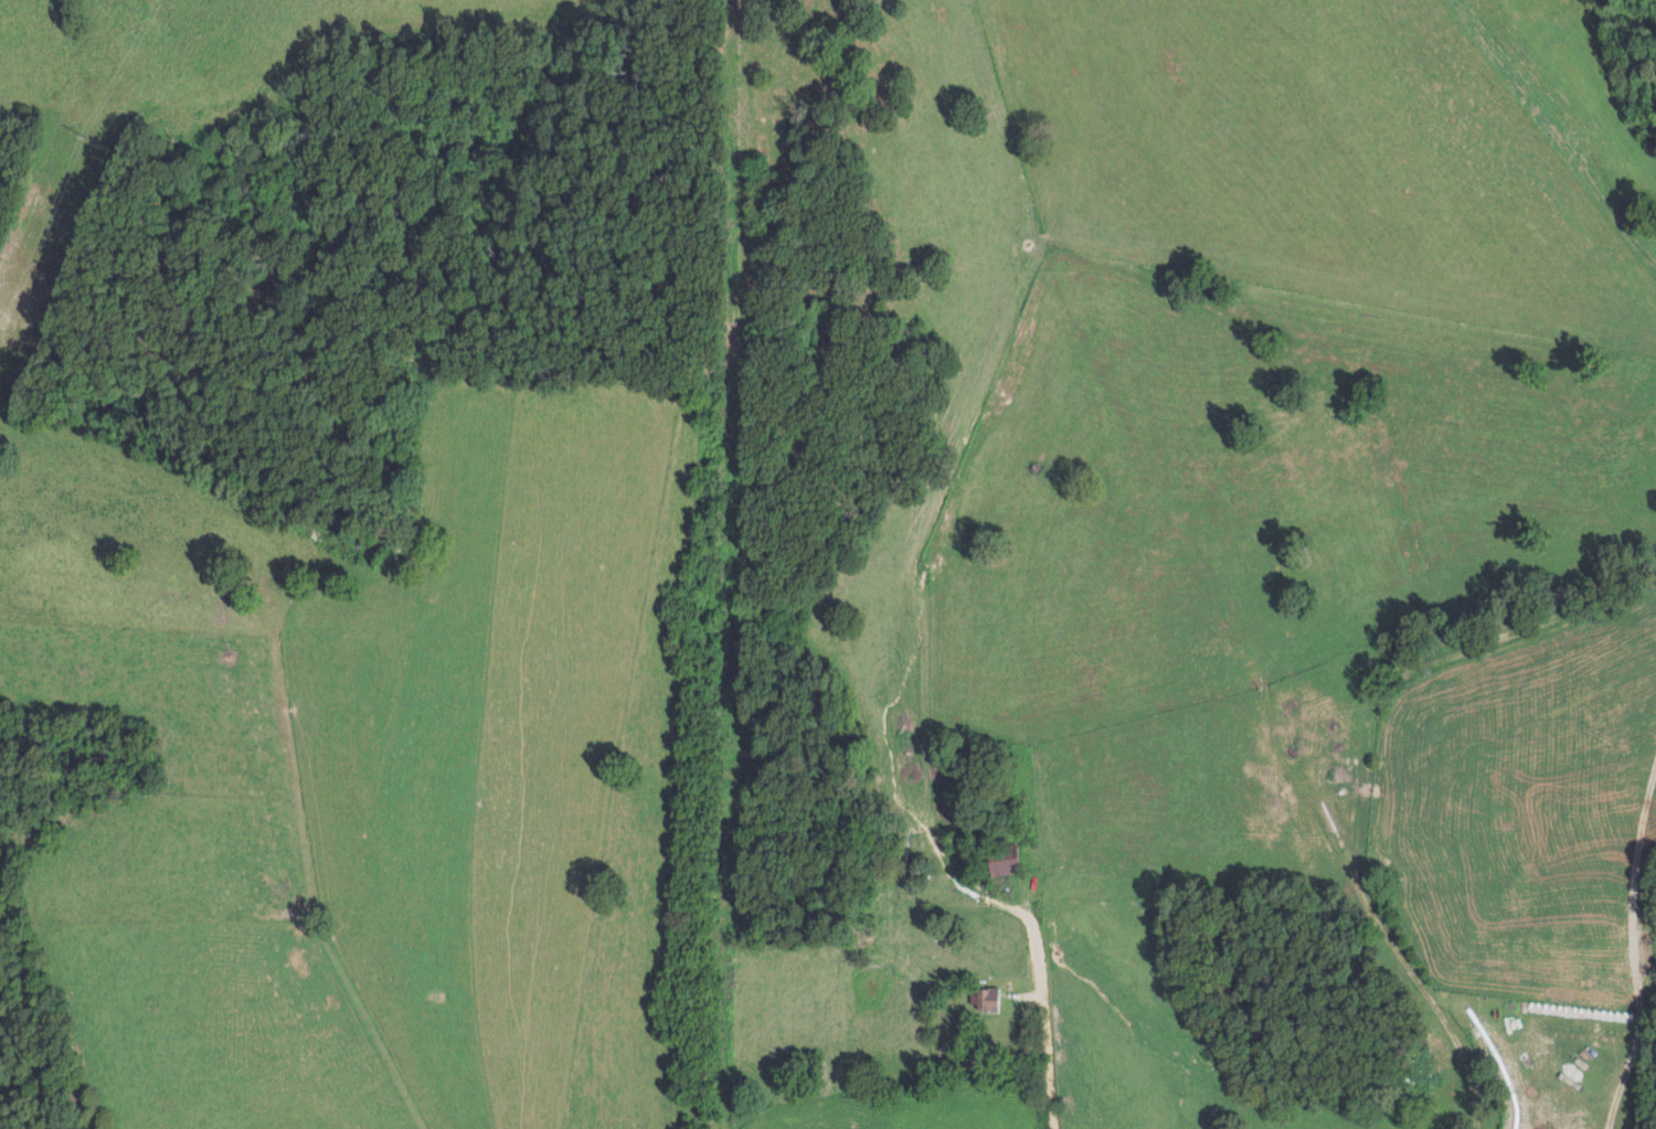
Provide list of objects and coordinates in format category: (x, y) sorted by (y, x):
building: (999, 861)
road: (305, 902)
road: (1430, 997)
building: (980, 999)
road: (1041, 1015)

